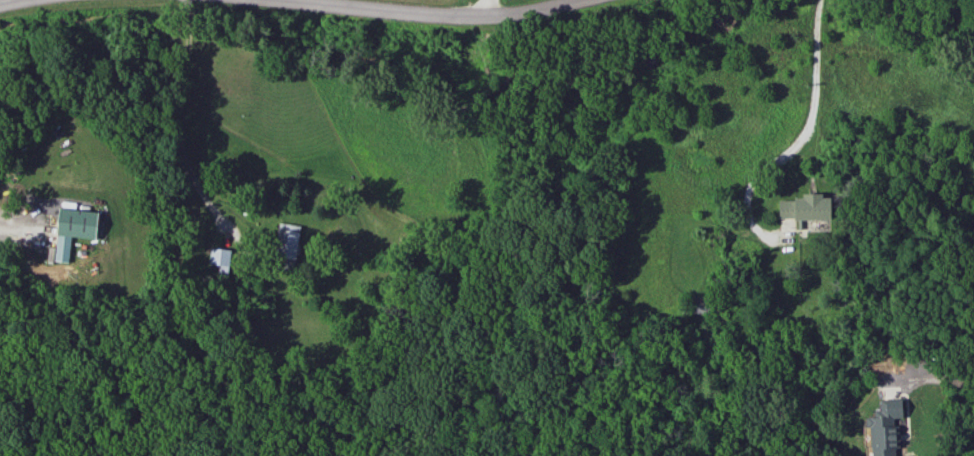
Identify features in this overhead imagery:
road: (7, 1)
road: (188, 2)
road: (478, 8)
road: (428, 13)
road: (188, 15)
road: (176, 135)
road: (797, 140)
building: (804, 207)
building: (72, 229)
building: (286, 240)
building: (219, 259)
building: (696, 303)
road: (936, 376)
building: (884, 428)

